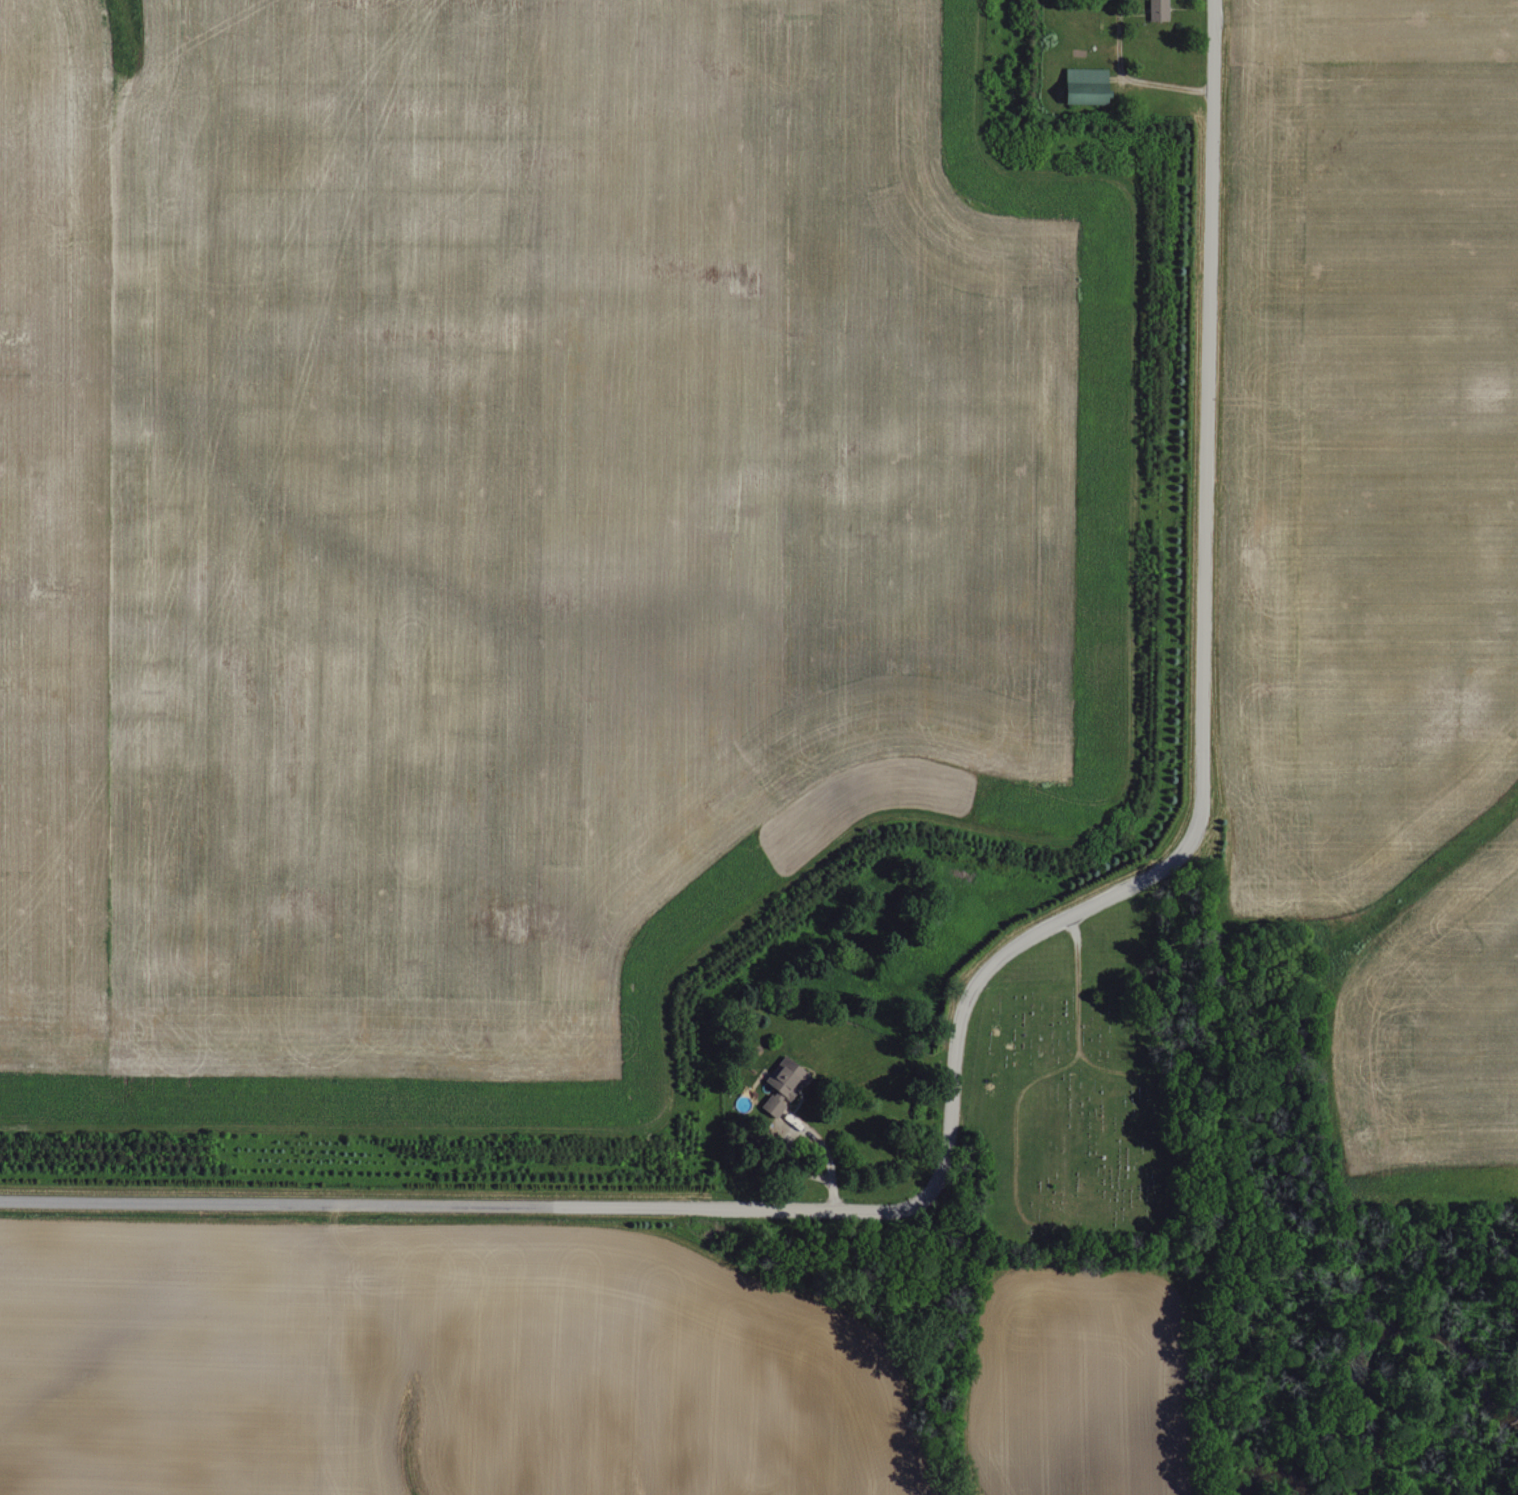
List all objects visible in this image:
building: (1156, 9)
building: (1082, 86)
road: (1188, 441)
road: (968, 990)
road: (461, 1198)

